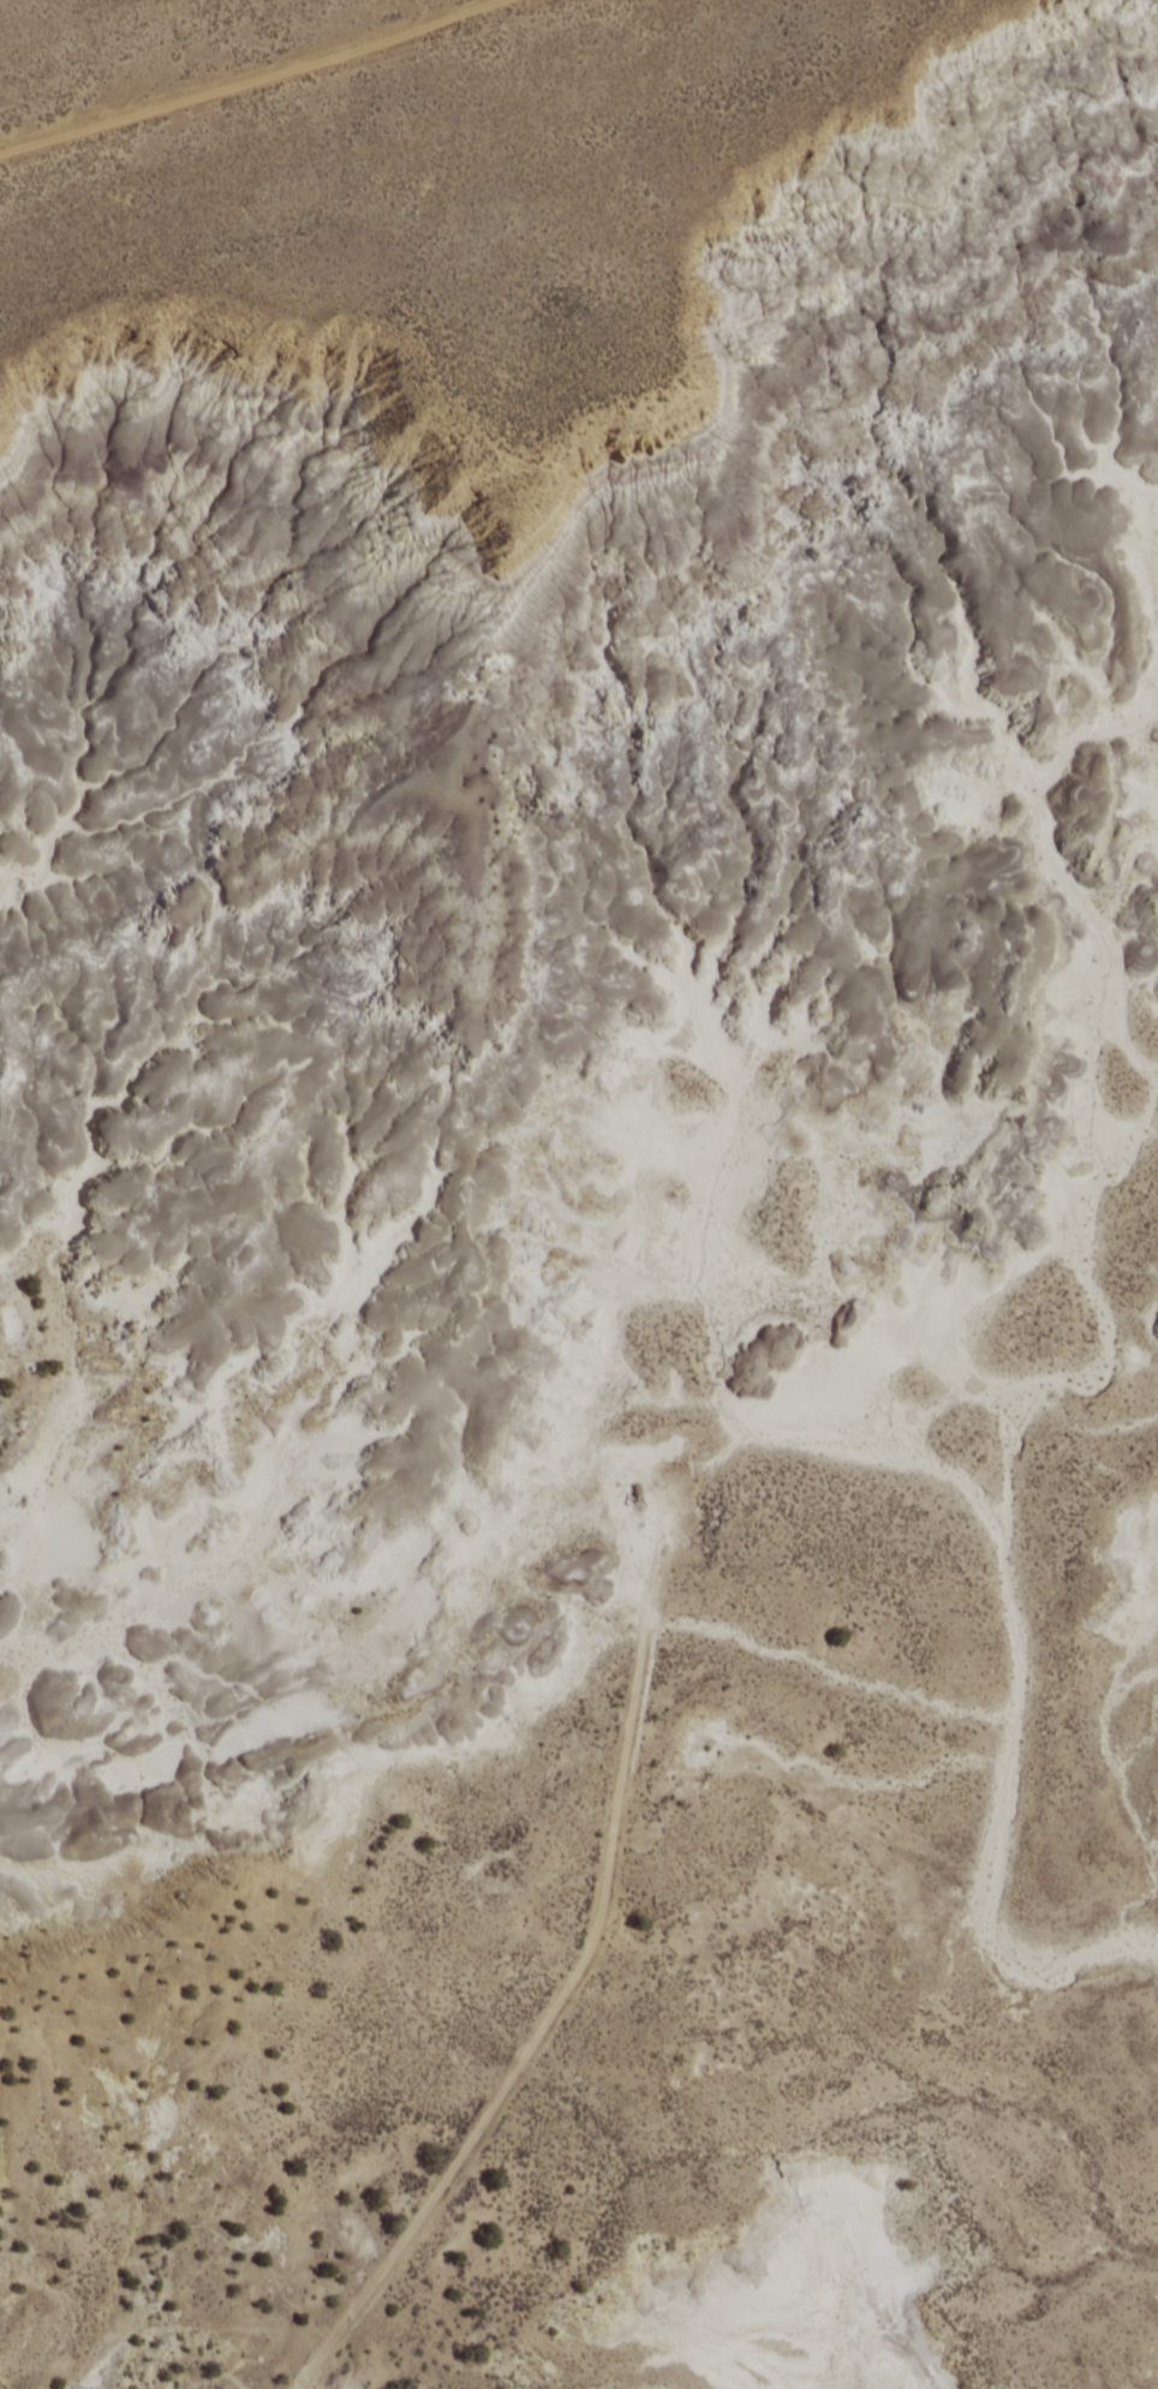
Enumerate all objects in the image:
road: (184, 52)

